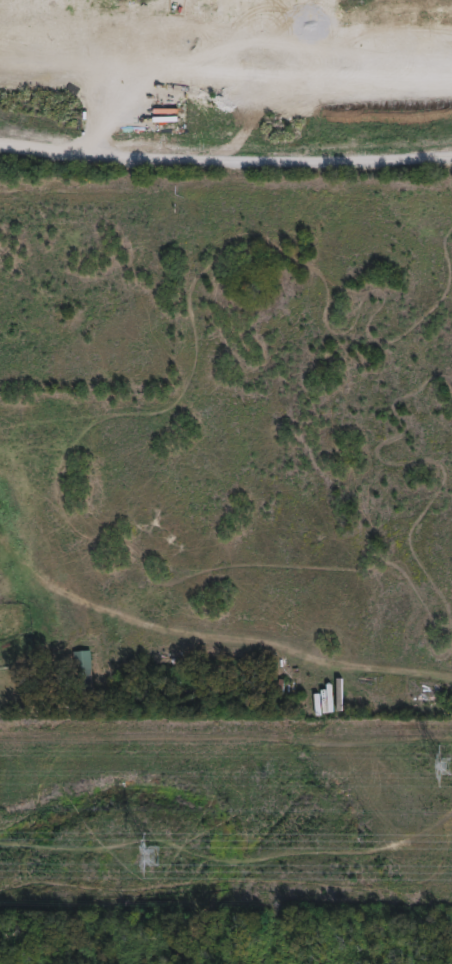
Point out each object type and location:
road: (225, 161)
building: (80, 671)
building: (307, 701)
building: (323, 701)
building: (352, 704)
power tower: (443, 767)
power tower: (151, 855)

